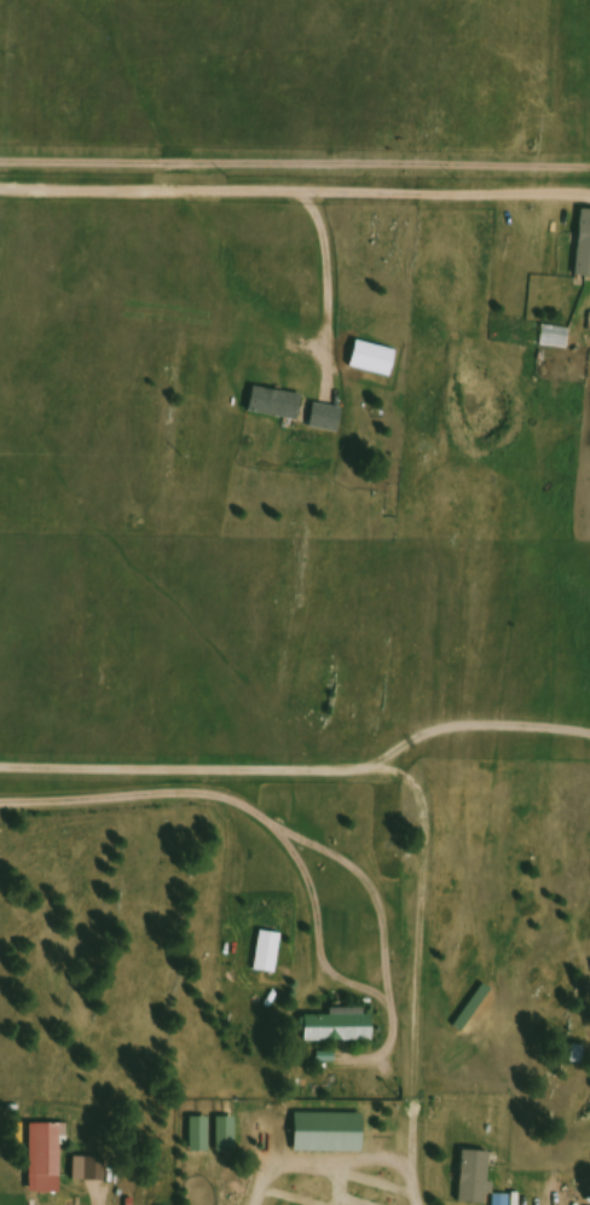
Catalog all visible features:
building: (584, 245)
building: (557, 341)
building: (376, 364)
building: (278, 406)
road: (296, 425)
road: (412, 789)
building: (272, 955)
building: (475, 1010)
building: (345, 1029)
building: (579, 1055)
building: (334, 1136)
building: (204, 1137)
building: (231, 1137)
building: (52, 1153)
building: (86, 1171)
road: (266, 1172)
building: (478, 1178)

